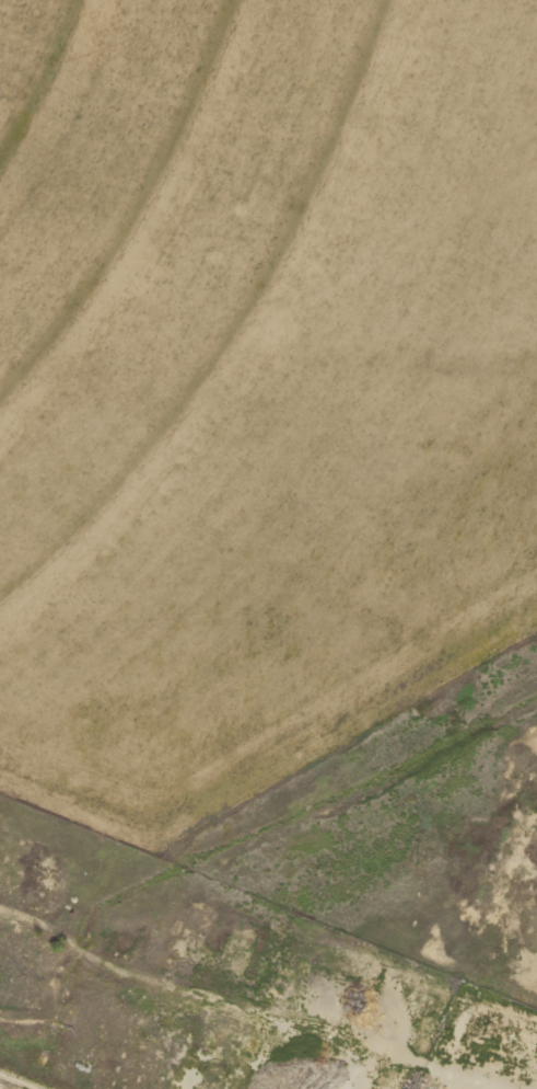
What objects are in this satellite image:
railway: (19, 1080)

